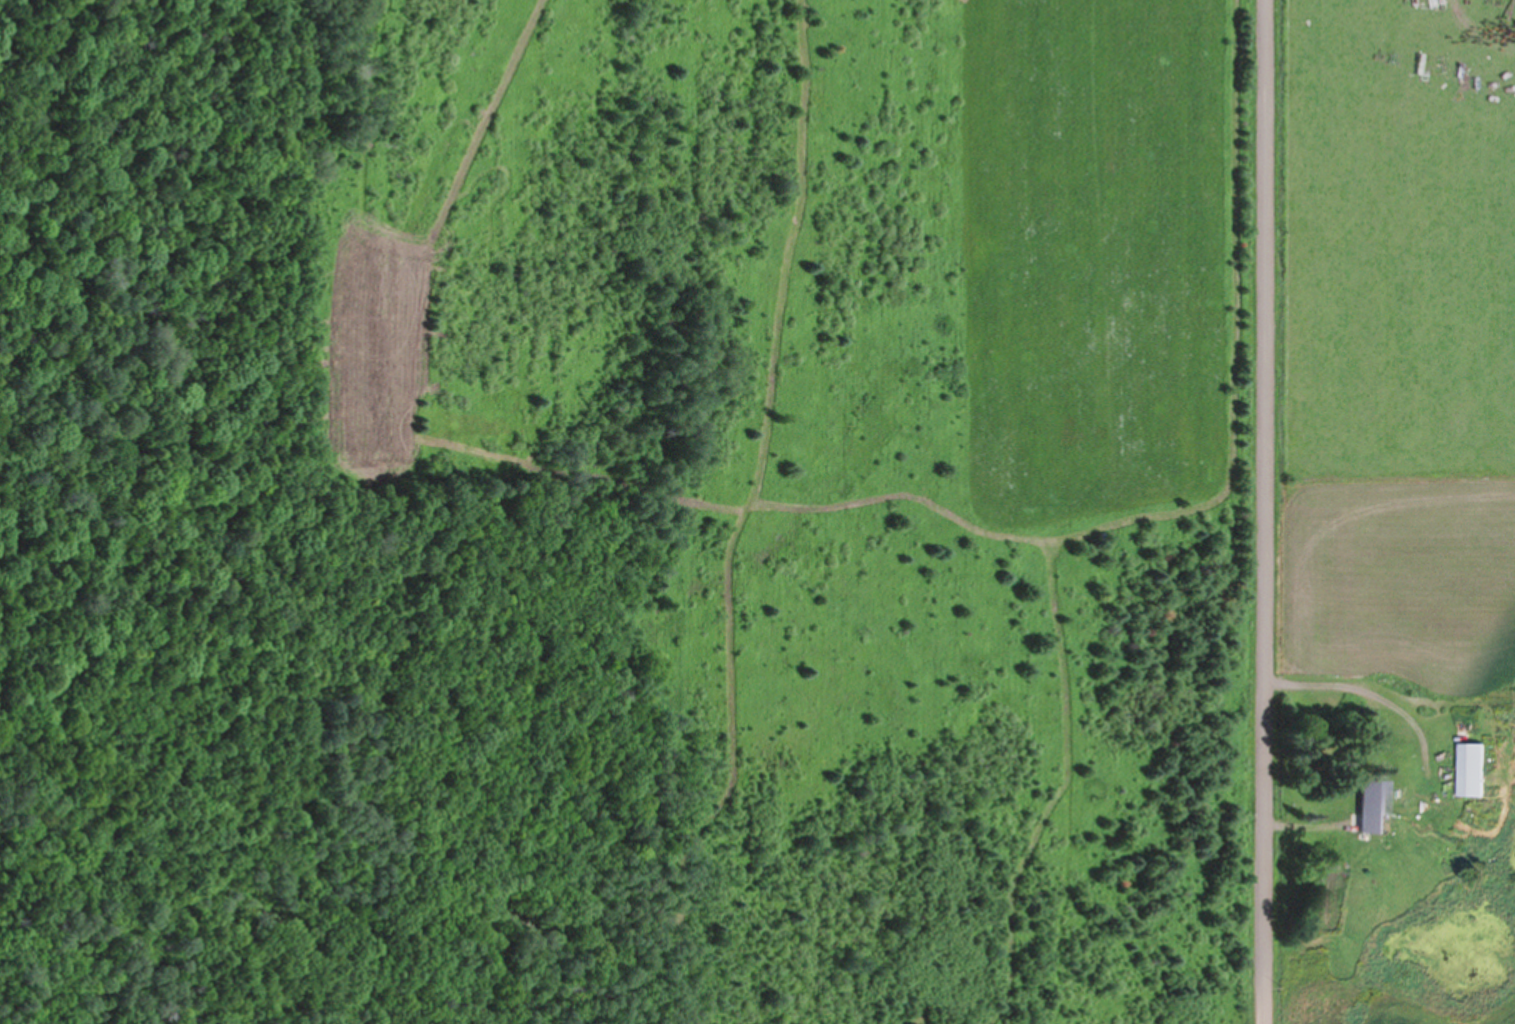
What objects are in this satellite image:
road: (1273, 512)
building: (1473, 770)
building: (1376, 808)

